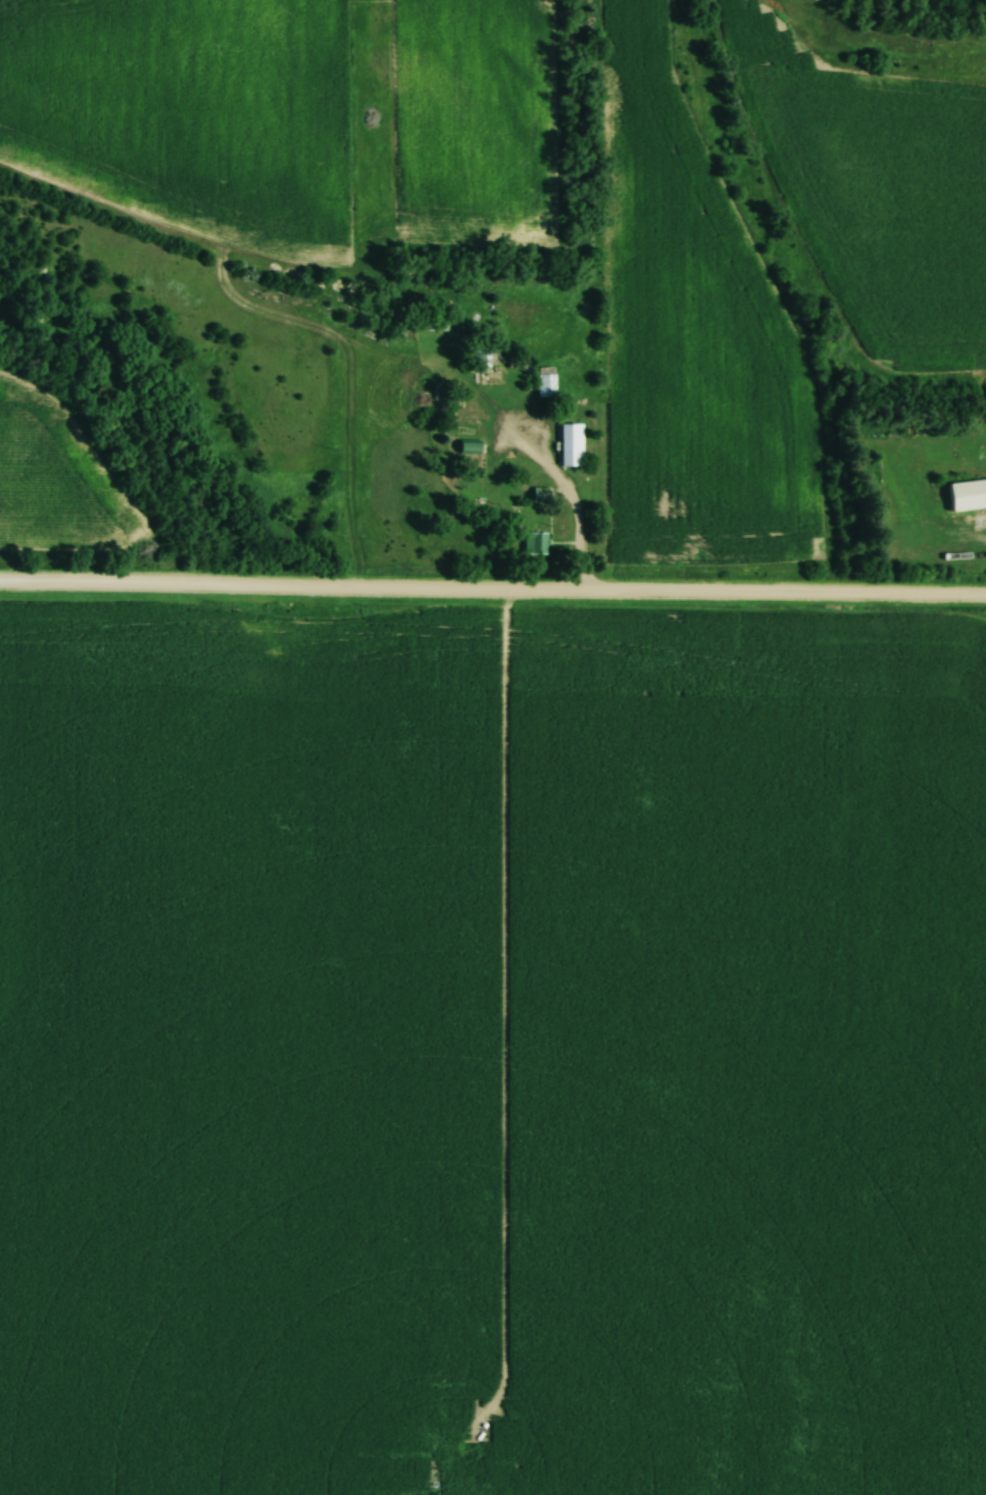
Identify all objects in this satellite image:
building: (426, 323)
crop: (696, 337)
building: (482, 356)
building: (517, 364)
building: (542, 385)
building: (569, 442)
building: (979, 454)
building: (968, 493)
building: (539, 496)
road: (574, 519)
building: (533, 543)
road: (492, 590)

